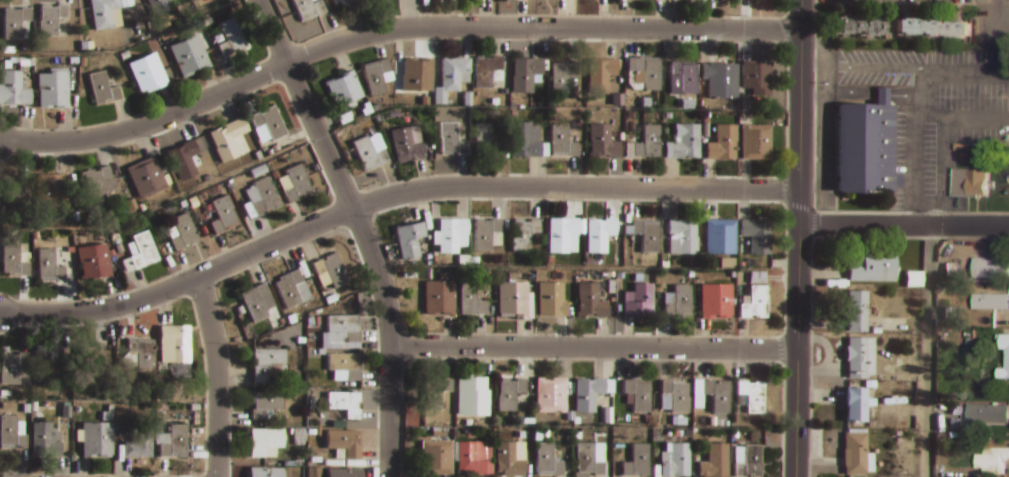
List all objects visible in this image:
building: (196, 0)
building: (342, 2)
building: (158, 5)
building: (309, 7)
building: (102, 12)
building: (50, 18)
building: (14, 20)
building: (859, 25)
building: (932, 29)
road: (391, 30)
building: (231, 36)
building: (188, 56)
building: (486, 69)
building: (646, 71)
building: (455, 72)
building: (525, 72)
building: (417, 73)
building: (601, 73)
building: (147, 74)
building: (375, 74)
building: (687, 75)
building: (563, 76)
building: (757, 76)
building: (721, 78)
building: (52, 87)
building: (102, 87)
building: (13, 88)
building: (344, 88)
road: (801, 112)
building: (269, 121)
building: (525, 138)
building: (451, 139)
building: (486, 139)
building: (603, 139)
building: (228, 140)
building: (563, 141)
building: (649, 141)
building: (757, 141)
building: (685, 142)
building: (724, 142)
building: (408, 143)
building: (864, 147)
building: (370, 153)
building: (183, 158)
building: (146, 177)
building: (297, 181)
building: (98, 182)
building: (968, 183)
building: (48, 188)
building: (12, 193)
building: (265, 196)
road: (389, 196)
building: (223, 213)
road: (904, 226)
road: (363, 228)
building: (183, 231)
building: (486, 232)
building: (451, 233)
building: (524, 233)
building: (600, 233)
building: (564, 234)
building: (648, 234)
building: (757, 234)
building: (721, 235)
building: (681, 238)
building: (409, 239)
building: (143, 249)
building: (14, 260)
building: (93, 261)
building: (48, 266)
building: (875, 266)
building: (331, 268)
building: (990, 269)
building: (913, 280)
building: (289, 288)
building: (440, 297)
building: (469, 297)
building: (516, 299)
building: (550, 300)
building: (590, 300)
building: (641, 301)
building: (989, 301)
building: (258, 302)
building: (680, 302)
building: (719, 302)
building: (755, 302)
building: (858, 310)
building: (345, 325)
building: (176, 341)
road: (595, 346)
road: (797, 351)
road: (927, 351)
building: (142, 353)
building: (861, 357)
building: (87, 359)
building: (1006, 359)
building: (269, 361)
building: (45, 362)
building: (347, 364)
building: (11, 366)
road: (216, 375)
building: (436, 392)
building: (469, 392)
building: (510, 392)
building: (588, 393)
building: (639, 393)
building: (551, 394)
building: (678, 394)
building: (753, 394)
building: (719, 395)
building: (268, 400)
building: (856, 403)
building: (344, 407)
building: (957, 410)
building: (987, 414)
building: (985, 425)
building: (1003, 426)
building: (11, 433)
building: (95, 438)
building: (44, 439)
building: (265, 440)
building: (139, 441)
building: (174, 442)
building: (345, 442)
building: (857, 453)
building: (437, 457)
building: (470, 457)
building: (993, 458)
building: (590, 459)
building: (508, 460)
building: (548, 460)
building: (676, 460)
building: (638, 461)
building: (716, 461)
building: (750, 462)
building: (342, 472)
building: (264, 473)

